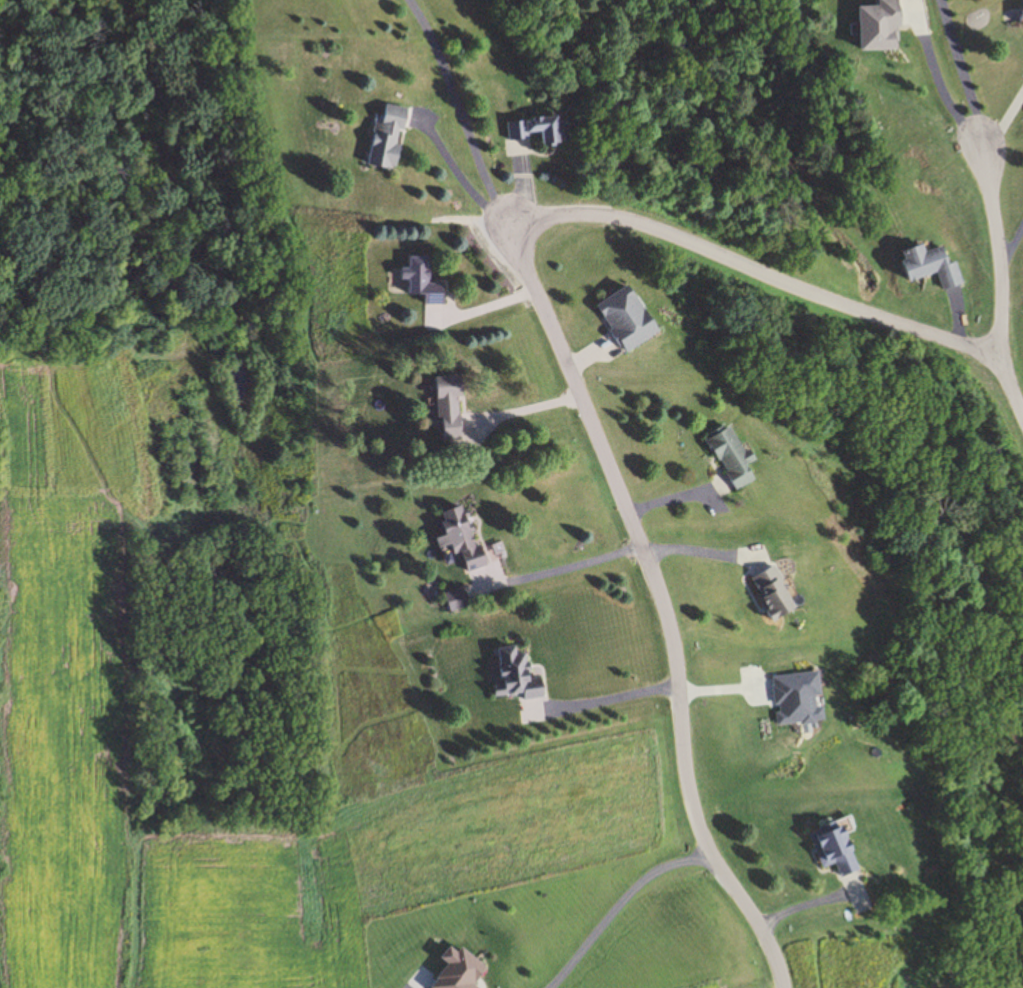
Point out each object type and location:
building: (1022, 22)
building: (884, 26)
road: (961, 72)
road: (937, 83)
road: (459, 120)
building: (541, 130)
building: (391, 136)
road: (1012, 239)
road: (996, 257)
building: (933, 265)
building: (418, 281)
building: (630, 319)
road: (884, 321)
building: (453, 408)
building: (736, 458)
road: (625, 514)
building: (463, 538)
building: (777, 594)
building: (459, 600)
building: (518, 676)
building: (839, 849)
road: (614, 906)

